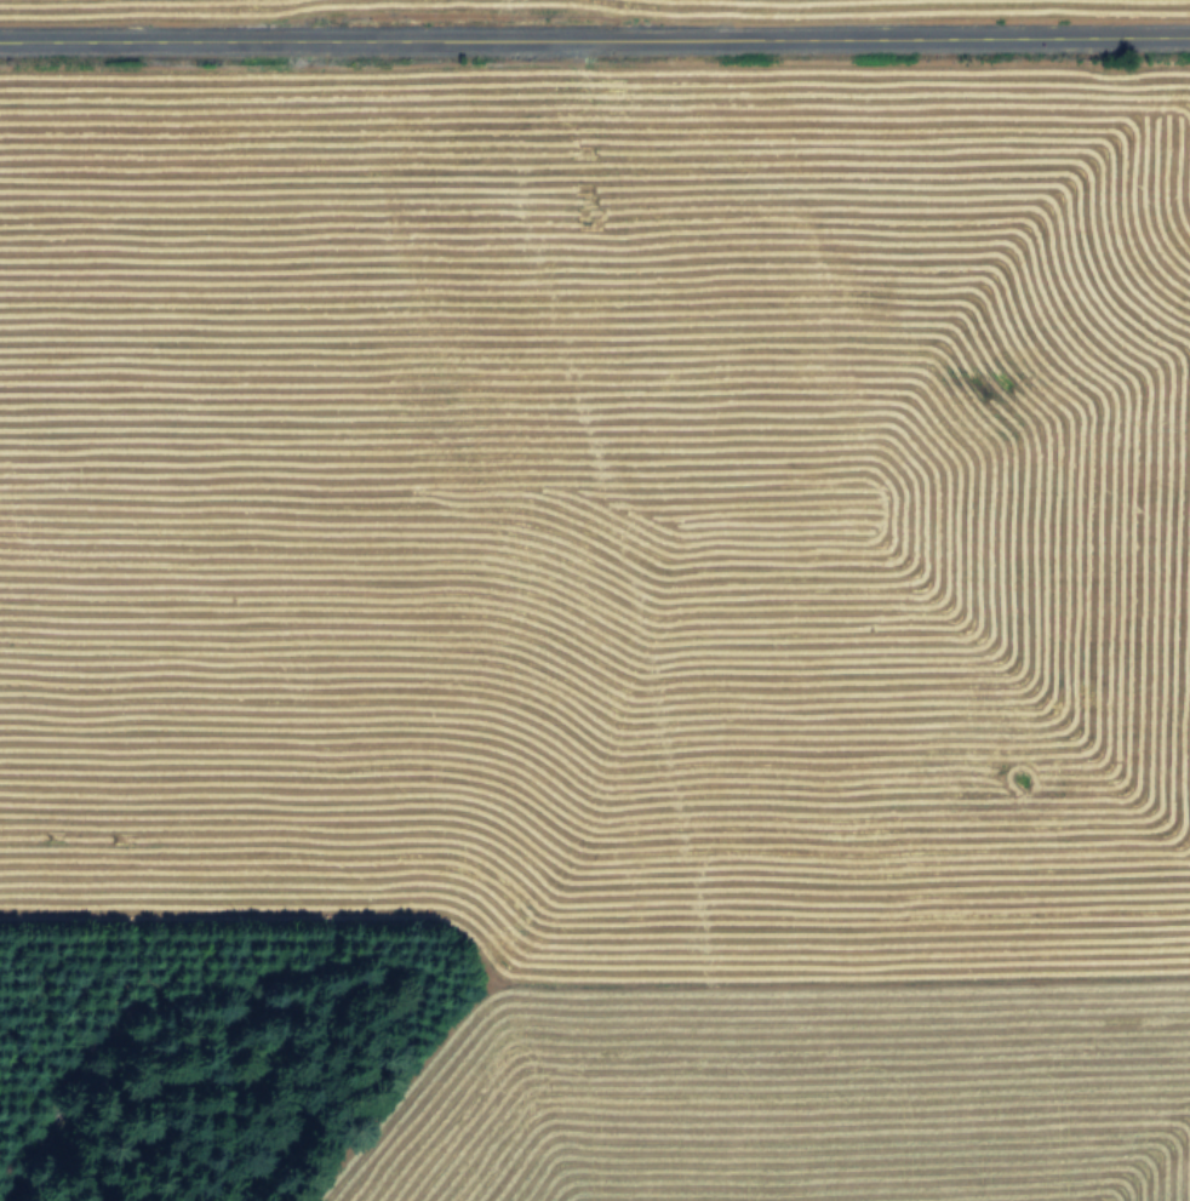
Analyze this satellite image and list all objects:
road: (595, 34)
crop: (629, 559)

